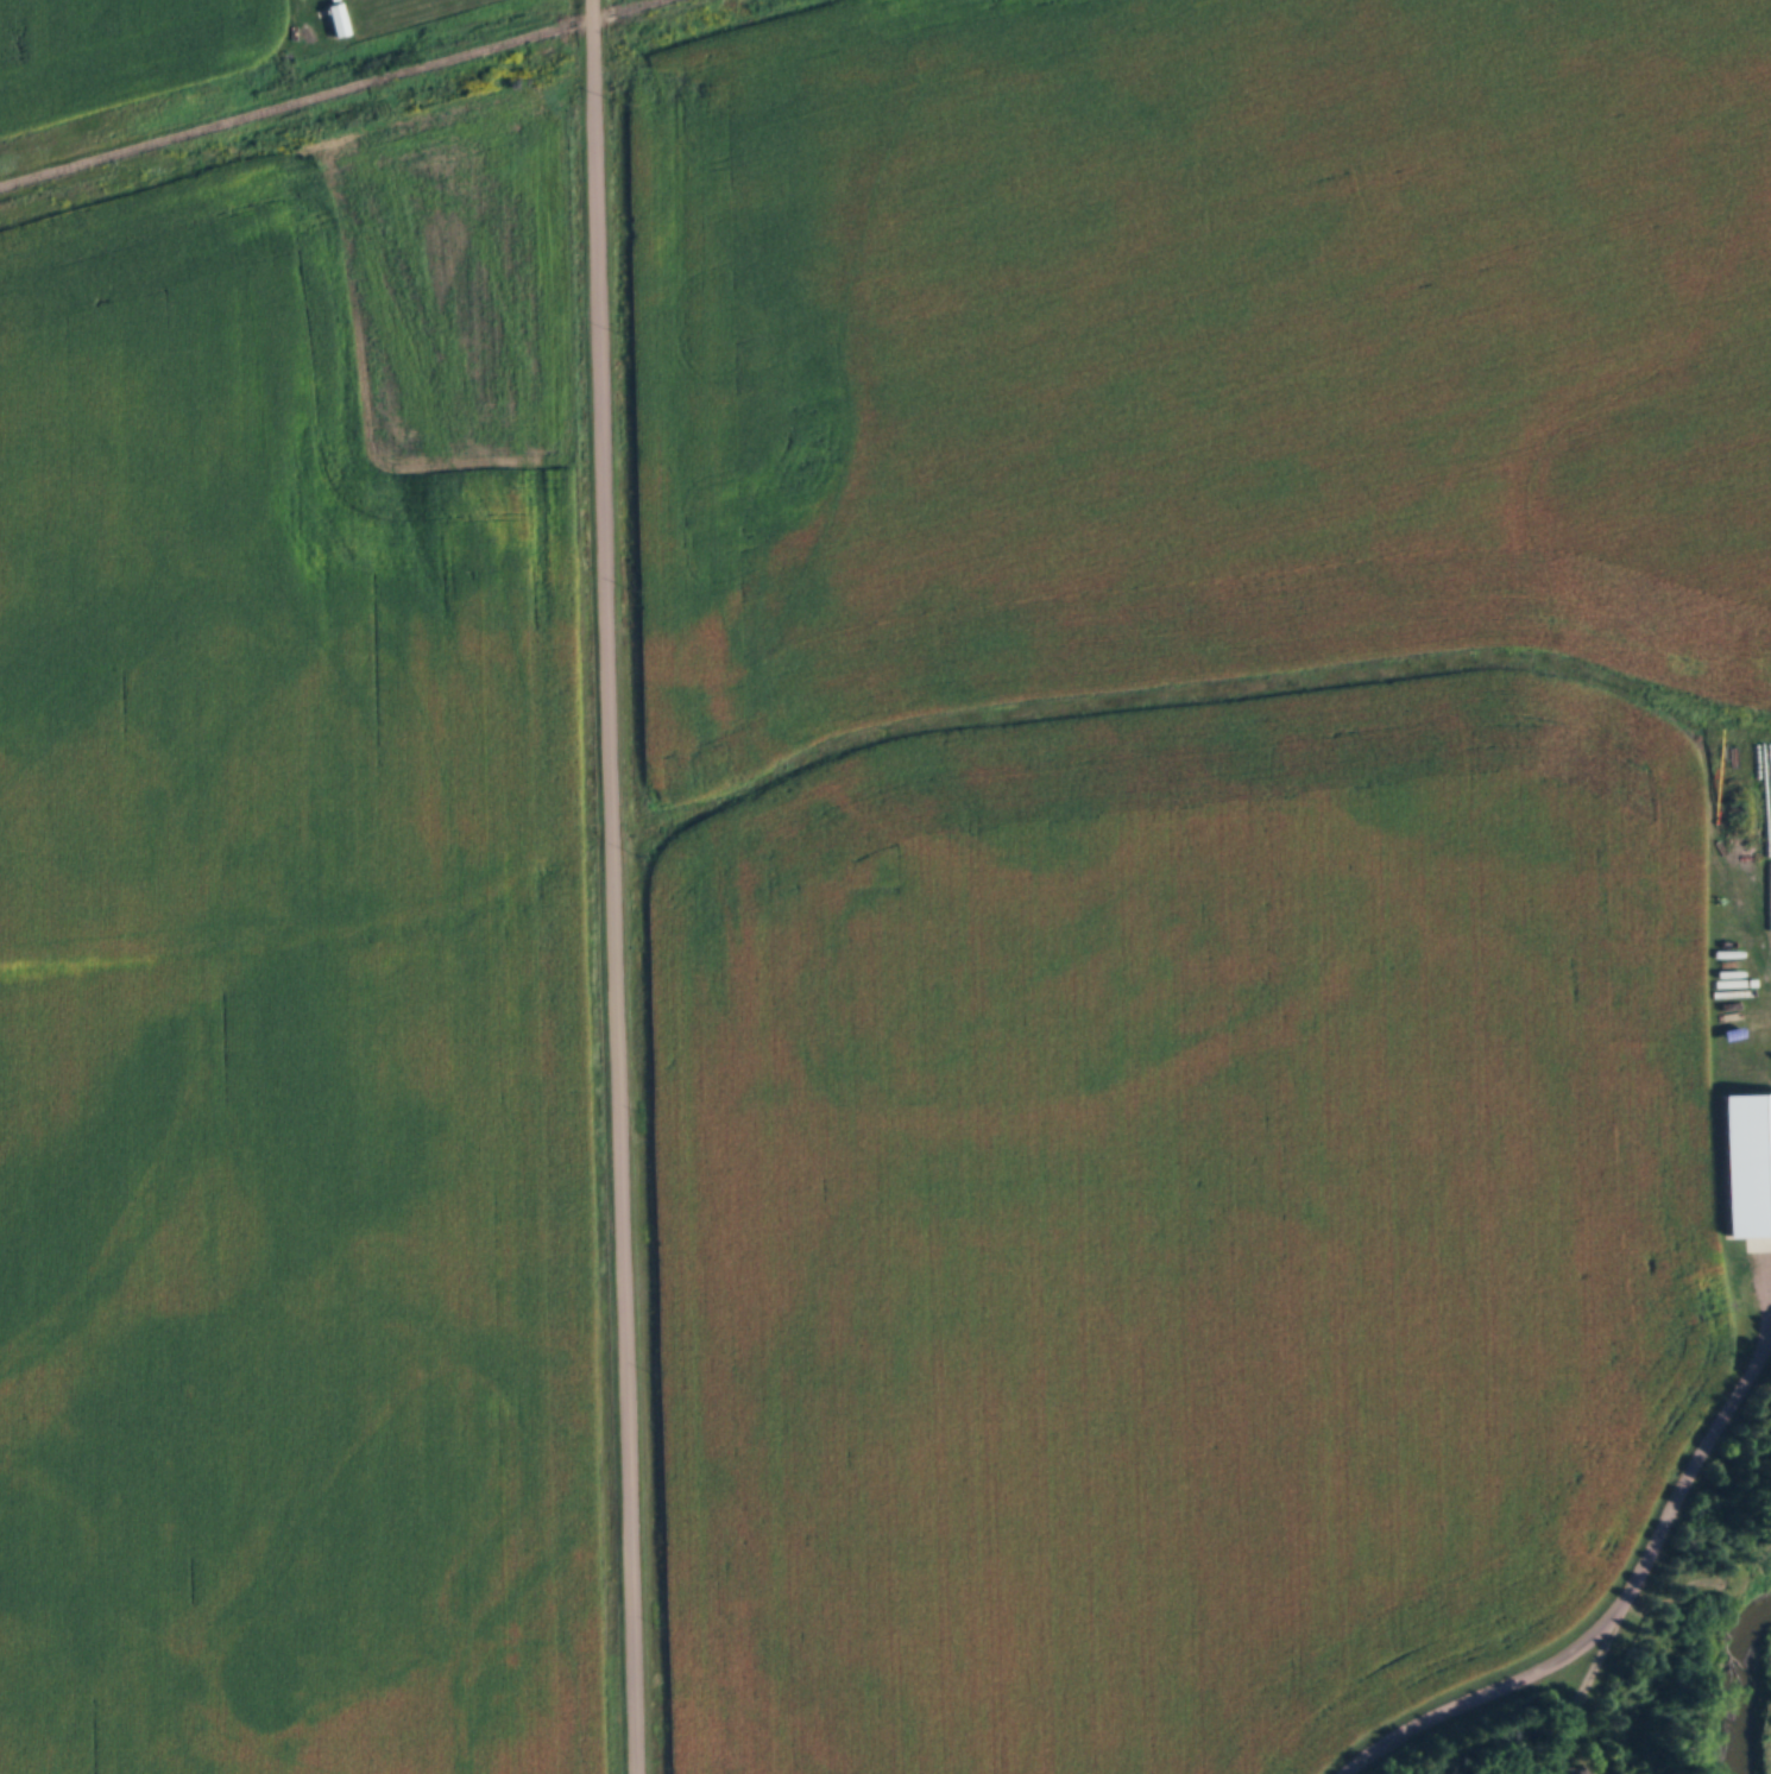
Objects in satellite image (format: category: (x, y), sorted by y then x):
railway: (333, 94)
road: (613, 886)
building: (1747, 1166)
road: (1618, 1589)
building: (1578, 1772)

